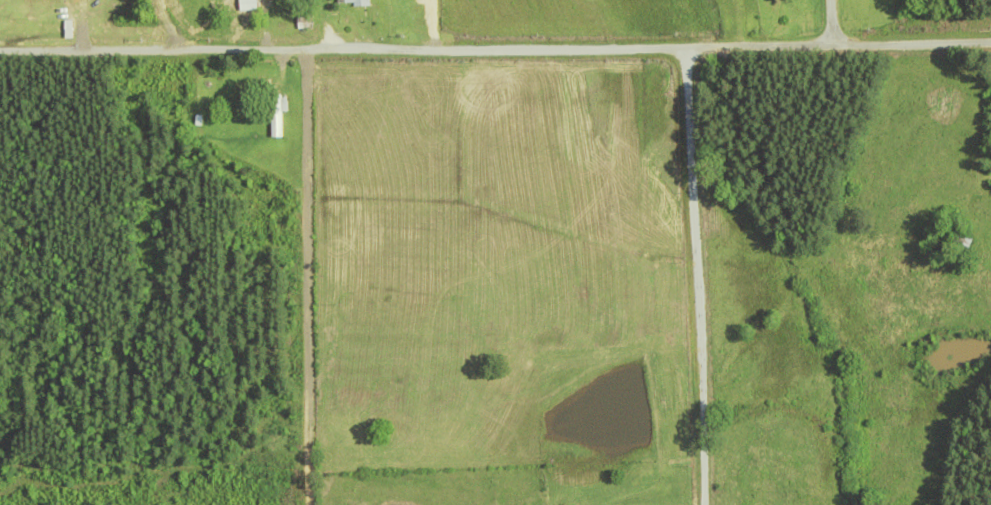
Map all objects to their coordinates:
building: (350, 3)
building: (245, 5)
road: (820, 18)
road: (495, 46)
building: (274, 116)
road: (8, 456)

